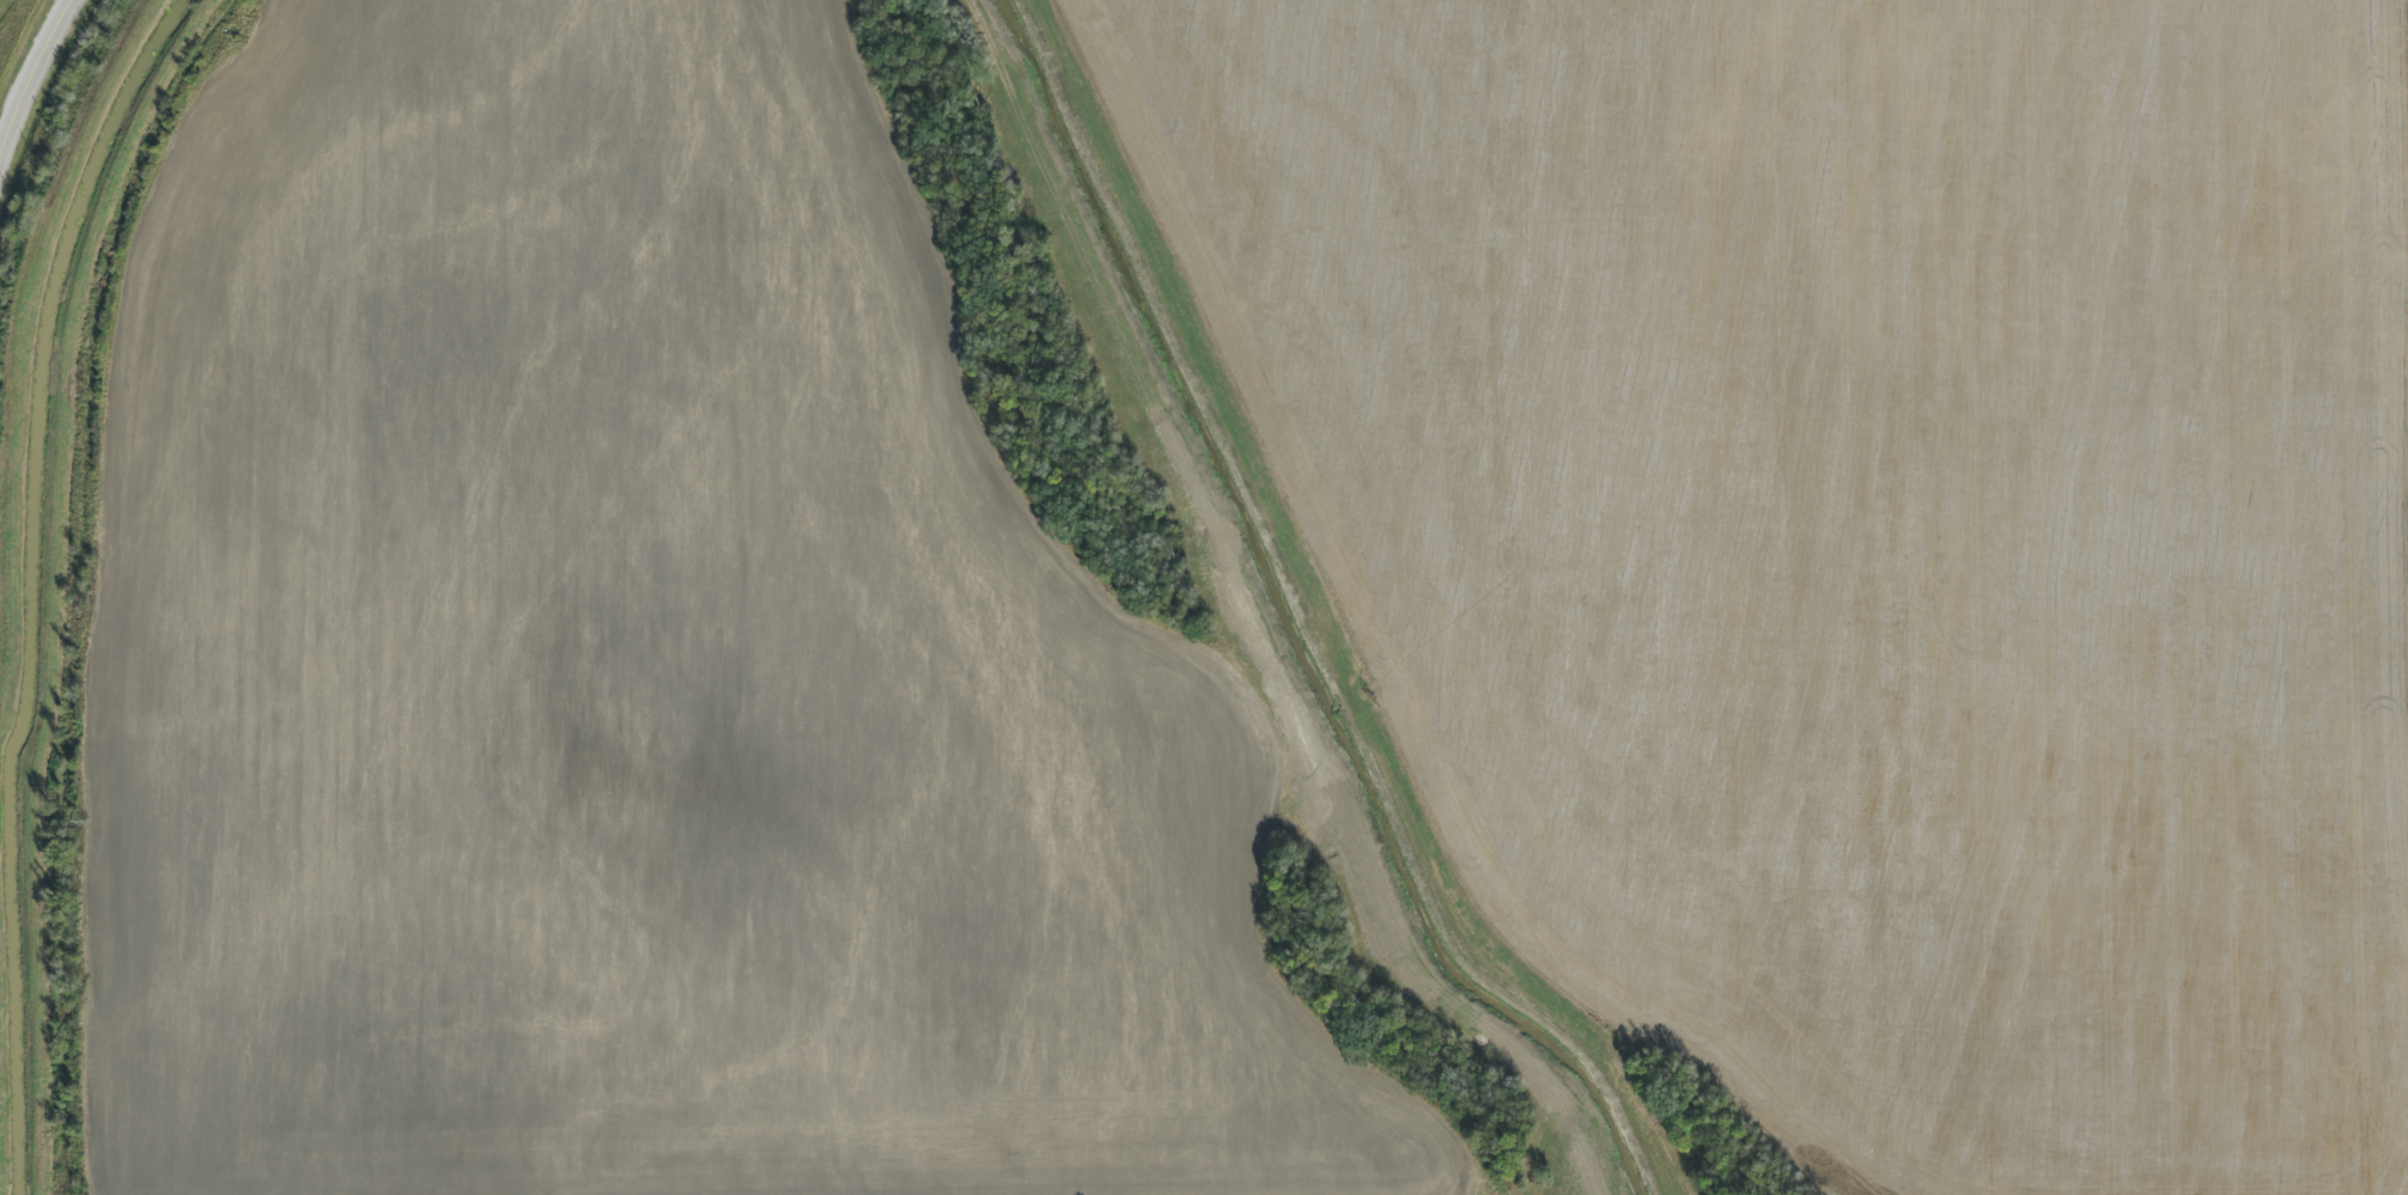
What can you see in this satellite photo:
road: (34, 86)
river: (1283, 622)

